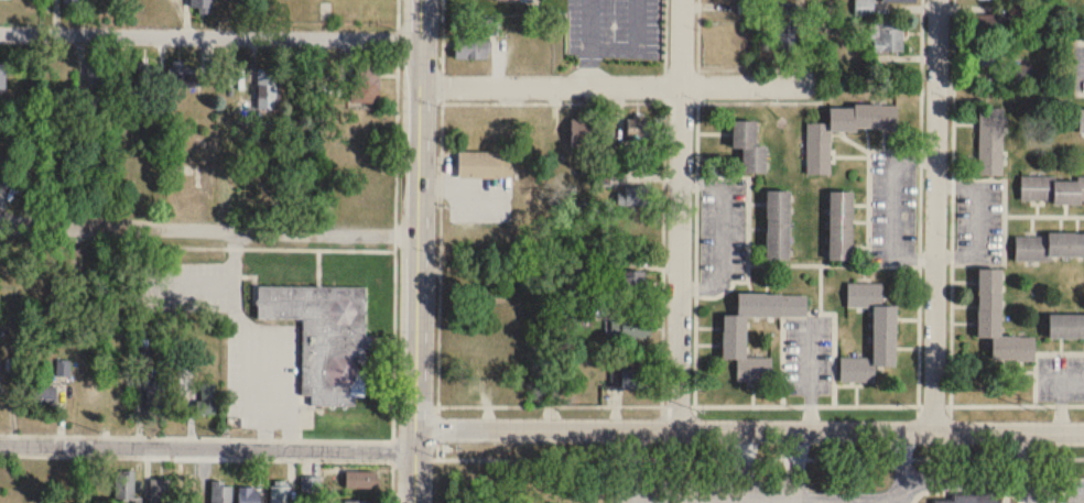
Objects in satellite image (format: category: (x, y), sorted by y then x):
building: (72, 1)
building: (899, 1)
building: (202, 6)
building: (864, 7)
building: (785, 12)
road: (86, 17)
road: (209, 34)
road: (696, 34)
building: (886, 37)
building: (785, 40)
road: (1078, 40)
road: (589, 42)
road: (632, 43)
building: (471, 50)
building: (986, 56)
parking lot: (1078, 66)
building: (95, 73)
building: (181, 75)
building: (1022, 75)
building: (2, 76)
building: (61, 79)
building: (148, 79)
road: (615, 85)
building: (365, 87)
road: (1078, 92)
building: (264, 94)
road: (457, 100)
building: (1080, 119)
building: (638, 127)
building: (842, 128)
building: (581, 133)
building: (988, 139)
building: (746, 143)
building: (485, 166)
building: (1050, 187)
building: (633, 196)
road: (951, 201)
road: (866, 206)
parking lot: (891, 206)
road: (416, 212)
road: (679, 215)
road: (935, 216)
road: (919, 217)
building: (774, 222)
building: (837, 222)
road: (208, 227)
building: (1048, 244)
road: (393, 251)
road: (746, 252)
road: (235, 282)
road: (198, 283)
road: (729, 285)
building: (631, 291)
road: (693, 302)
building: (581, 315)
building: (996, 318)
building: (1064, 324)
building: (629, 329)
building: (881, 330)
road: (261, 331)
building: (730, 335)
building: (324, 337)
parking lot: (1060, 376)
road: (1033, 378)
building: (630, 380)
road: (1061, 393)
building: (155, 396)
road: (436, 430)
road: (748, 430)
road: (206, 447)
road: (901, 455)
road: (1027, 456)
road: (195, 457)
road: (760, 457)
road: (793, 463)
road: (412, 464)
road: (742, 464)
building: (361, 479)
building: (126, 486)
building: (160, 491)
building: (221, 491)
building: (280, 493)
building: (249, 494)
road: (813, 499)
building: (967, 499)
building: (360, 501)

